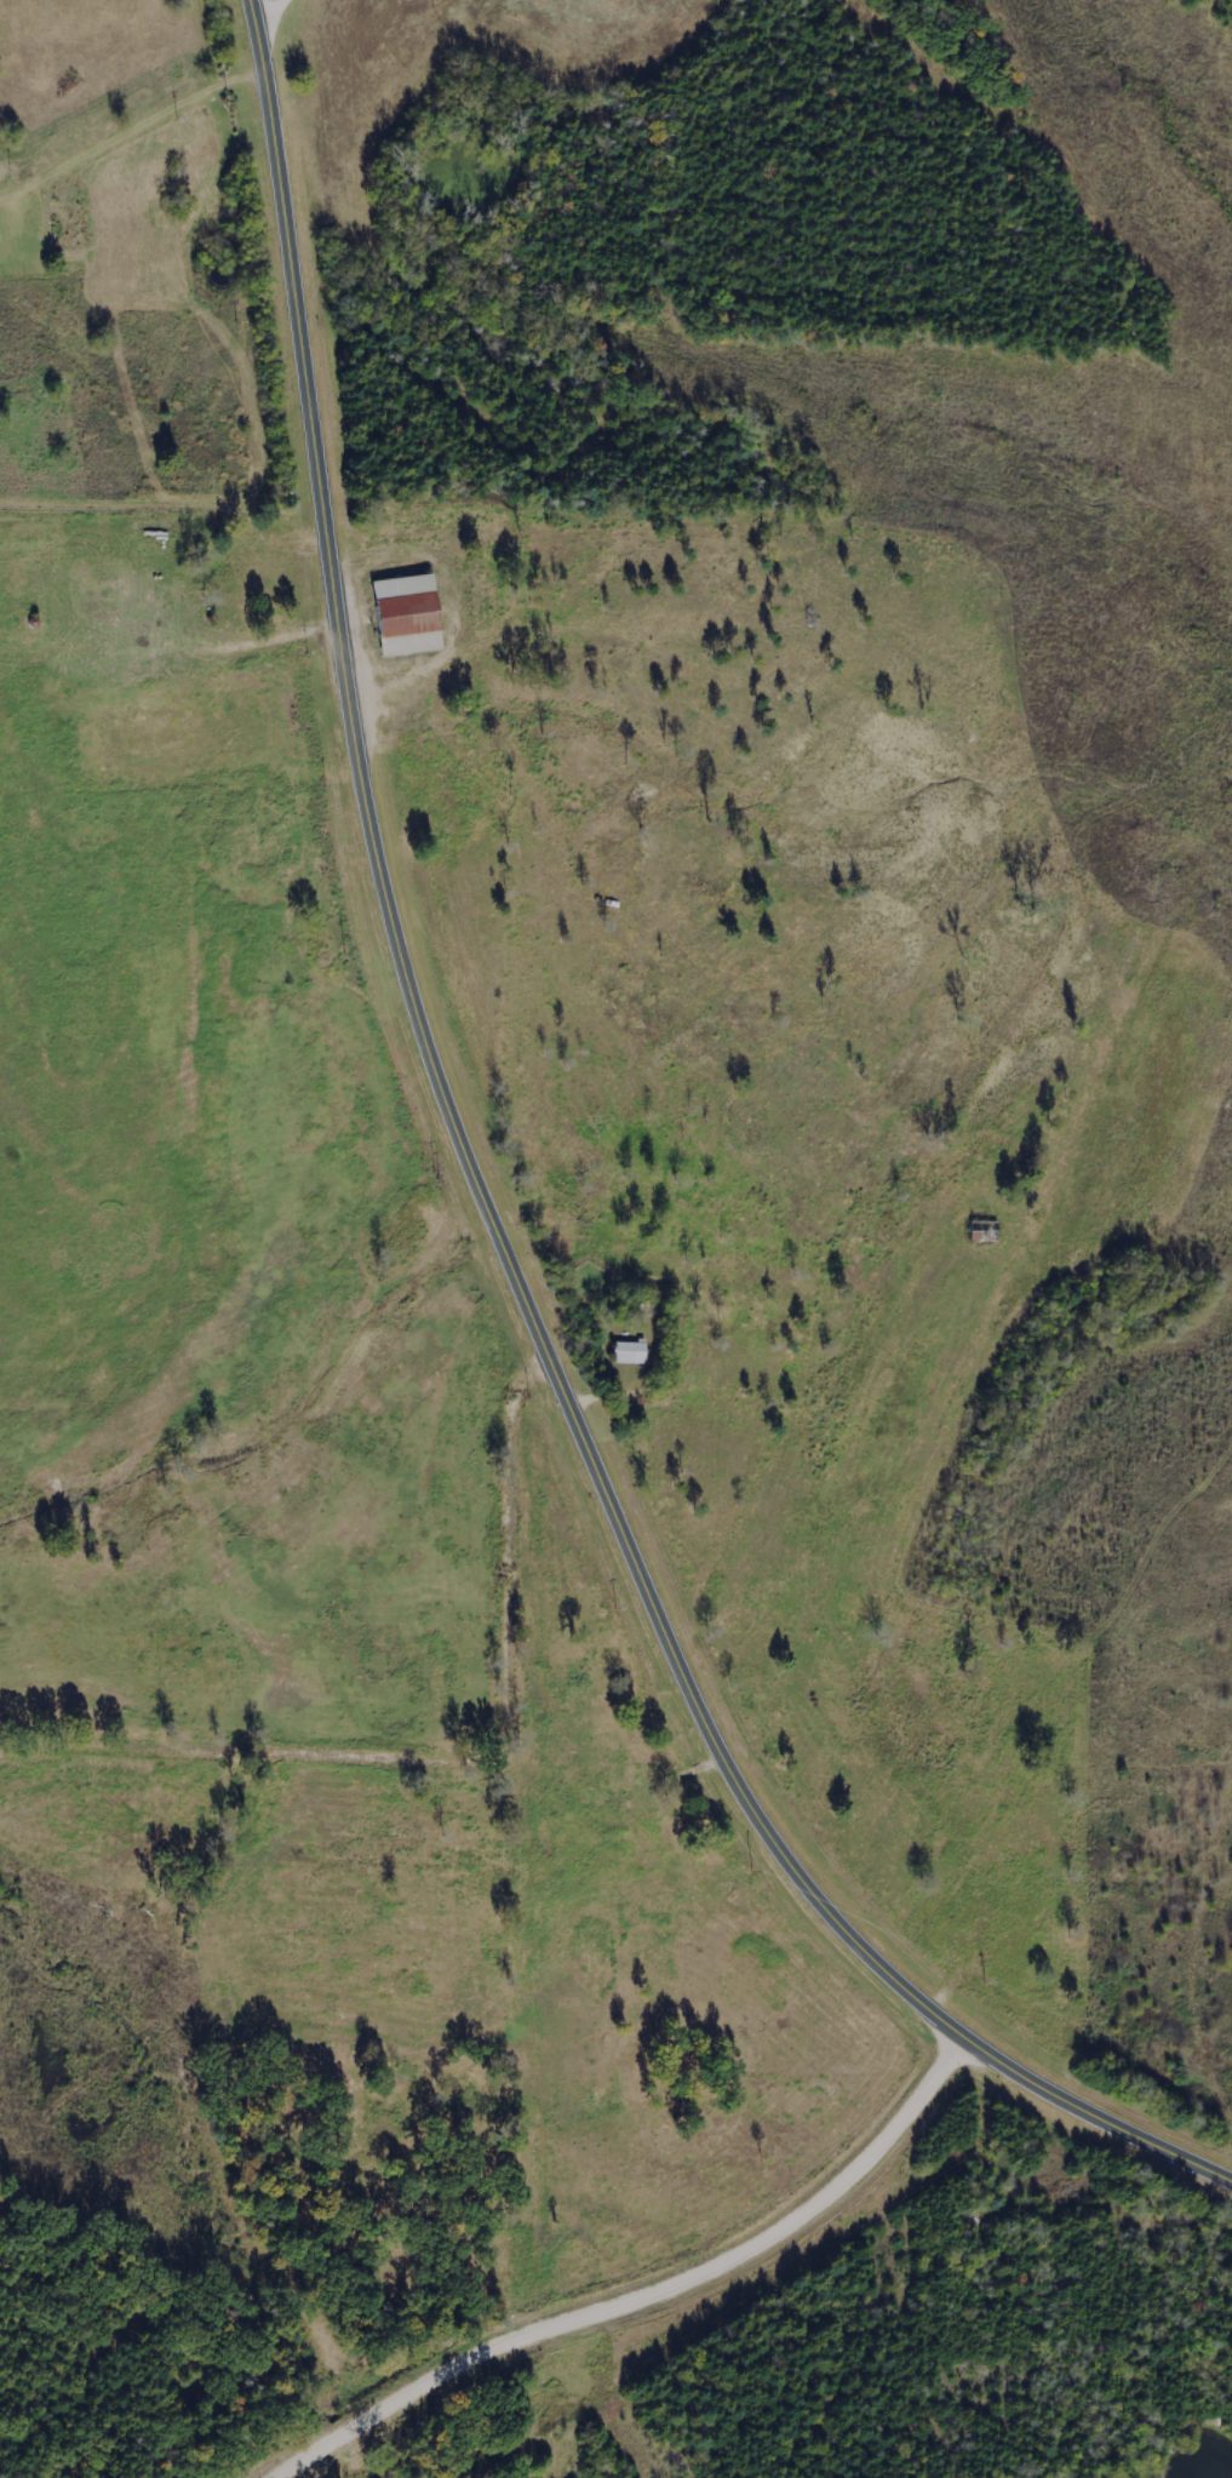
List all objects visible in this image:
road: (268, 6)
road: (134, 137)
building: (403, 616)
road: (440, 1086)
building: (628, 1352)
road: (1095, 2117)
road: (641, 2291)

